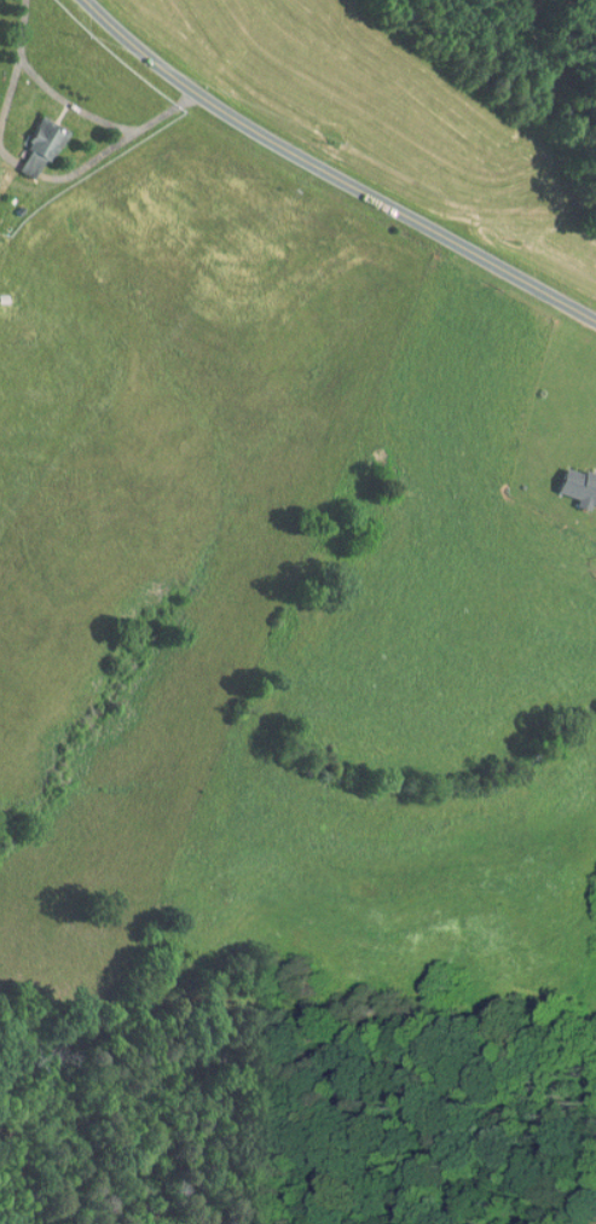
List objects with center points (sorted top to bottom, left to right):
road: (79, 106)
building: (39, 149)
road: (332, 178)
building: (578, 487)

